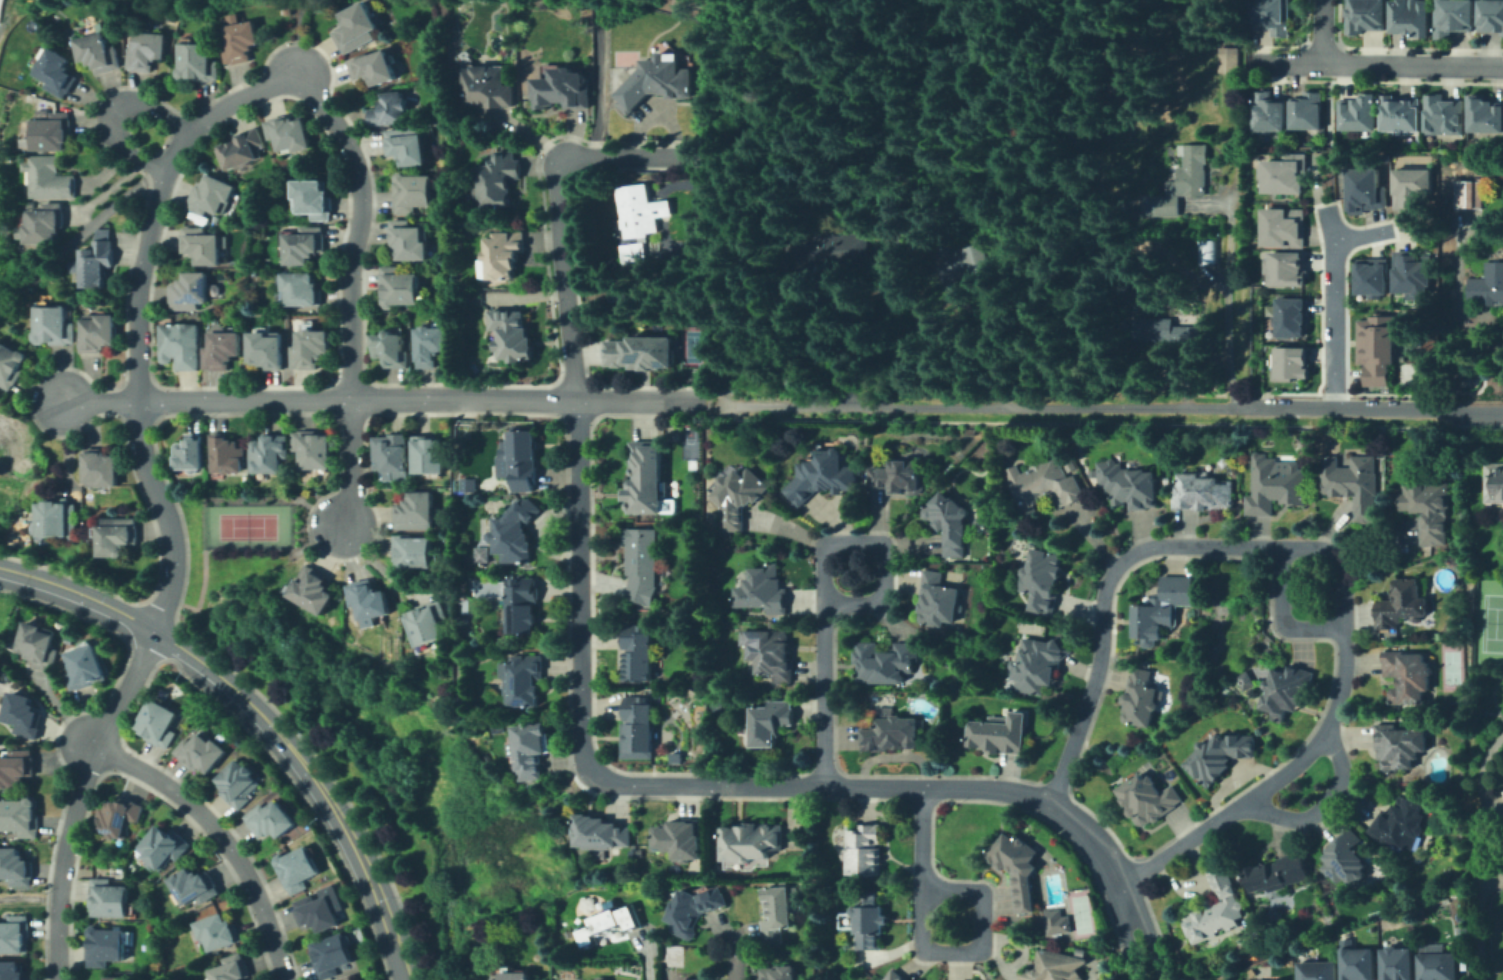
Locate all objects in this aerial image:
park: (8, 12)
building: (1492, 15)
building: (1367, 16)
building: (1274, 17)
building: (1453, 17)
building: (1411, 19)
building: (359, 24)
road: (1320, 31)
building: (238, 41)
building: (147, 50)
building: (101, 52)
building: (197, 62)
building: (1231, 62)
road: (1375, 63)
building: (375, 68)
building: (58, 72)
building: (656, 84)
building: (487, 87)
building: (562, 91)
building: (391, 110)
road: (113, 111)
building: (1306, 112)
building: (1269, 114)
building: (1358, 114)
building: (1444, 114)
building: (1485, 114)
building: (1400, 116)
building: (52, 132)
building: (290, 133)
building: (409, 146)
building: (241, 149)
road: (631, 153)
building: (1283, 177)
building: (48, 178)
building: (499, 178)
building: (1180, 183)
building: (1413, 189)
building: (1365, 191)
building: (418, 192)
building: (1469, 194)
building: (210, 197)
building: (316, 198)
building: (641, 213)
building: (47, 225)
road: (358, 227)
building: (1283, 228)
road: (77, 233)
road: (1358, 235)
building: (411, 240)
building: (308, 243)
building: (203, 245)
building: (831, 248)
building: (632, 250)
building: (1207, 251)
building: (505, 253)
building: (99, 260)
building: (964, 267)
building: (1287, 270)
building: (1411, 274)
road: (562, 277)
building: (1372, 278)
building: (403, 286)
building: (1488, 287)
building: (302, 289)
building: (190, 292)
road: (1331, 307)
road: (1226, 309)
building: (1292, 319)
building: (927, 321)
building: (53, 323)
building: (513, 330)
building: (100, 333)
building: (1170, 334)
building: (183, 345)
building: (433, 346)
park: (693, 346)
building: (1376, 346)
building: (271, 348)
building: (313, 348)
building: (225, 351)
building: (394, 351)
building: (641, 351)
building: (11, 364)
building: (1292, 365)
road: (381, 396)
road: (705, 402)
road: (714, 402)
road: (1111, 405)
building: (314, 449)
building: (186, 452)
building: (268, 454)
building: (226, 455)
building: (392, 455)
building: (430, 456)
building: (523, 461)
road: (353, 465)
building: (102, 469)
building: (825, 475)
building: (897, 476)
building: (645, 478)
building: (1494, 482)
building: (1127, 484)
building: (1273, 484)
building: (1044, 485)
building: (1353, 485)
building: (1202, 491)
road: (156, 496)
building: (742, 499)
building: (1427, 508)
building: (417, 512)
building: (56, 518)
building: (951, 522)
park: (244, 525)
building: (514, 532)
building: (116, 534)
road: (880, 545)
building: (413, 552)
building: (482, 554)
road: (1342, 562)
building: (641, 565)
building: (1044, 580)
building: (310, 587)
building: (766, 590)
building: (943, 598)
building: (373, 603)
road: (1103, 603)
building: (1403, 604)
building: (523, 606)
building: (1164, 608)
road: (1282, 615)
park: (1491, 622)
building: (428, 623)
building: (39, 644)
building: (638, 654)
building: (771, 654)
building: (886, 661)
building: (1043, 662)
building: (85, 665)
park: (1449, 666)
building: (1407, 675)
building: (1246, 678)
building: (524, 679)
building: (1286, 691)
road: (824, 694)
park: (314, 699)
building: (1143, 699)
road: (261, 714)
building: (24, 715)
building: (770, 720)
building: (1474, 722)
building: (161, 723)
building: (637, 730)
building: (891, 731)
building: (996, 738)
building: (1400, 746)
building: (530, 749)
building: (202, 752)
building: (1217, 757)
building: (17, 770)
road: (1267, 781)
building: (240, 783)
road: (736, 785)
building: (1502, 790)
building: (1146, 800)
road: (1321, 803)
building: (123, 815)
building: (21, 816)
building: (274, 819)
building: (1400, 825)
building: (598, 832)
road: (221, 838)
road: (922, 838)
building: (680, 839)
building: (751, 842)
building: (167, 845)
building: (866, 849)
road: (1480, 853)
building: (1346, 857)
building: (302, 865)
building: (1013, 866)
building: (18, 867)
building: (1279, 875)
building: (198, 884)
road: (29, 897)
building: (110, 899)
building: (1216, 905)
building: (695, 910)
building: (319, 911)
park: (1079, 913)
building: (775, 915)
road: (922, 916)
building: (866, 918)
building: (1054, 920)
road: (982, 923)
building: (608, 924)
building: (221, 931)
building: (1464, 934)
building: (15, 935)
building: (106, 947)
building: (332, 952)
road: (735, 959)
building: (1360, 963)
building: (1400, 964)
road: (643, 965)
building: (1441, 966)
building: (234, 967)
building: (1055, 968)
building: (14, 970)
building: (1319, 971)
building: (781, 974)
building: (511, 975)
building: (894, 976)
building: (352, 978)
building: (598, 978)
building: (119, 979)
building: (691, 979)
building: (905, 979)

